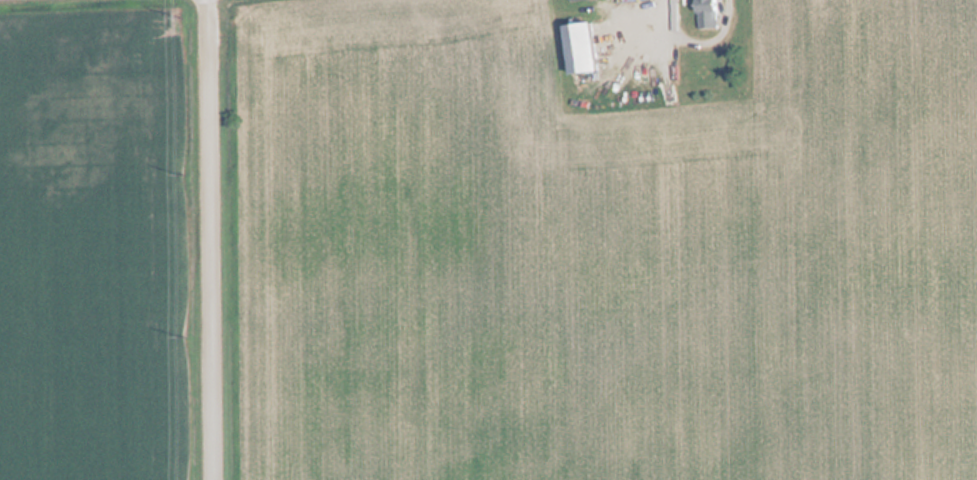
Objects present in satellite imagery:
building: (566, 0)
building: (704, 14)
building: (574, 47)
road: (212, 240)

